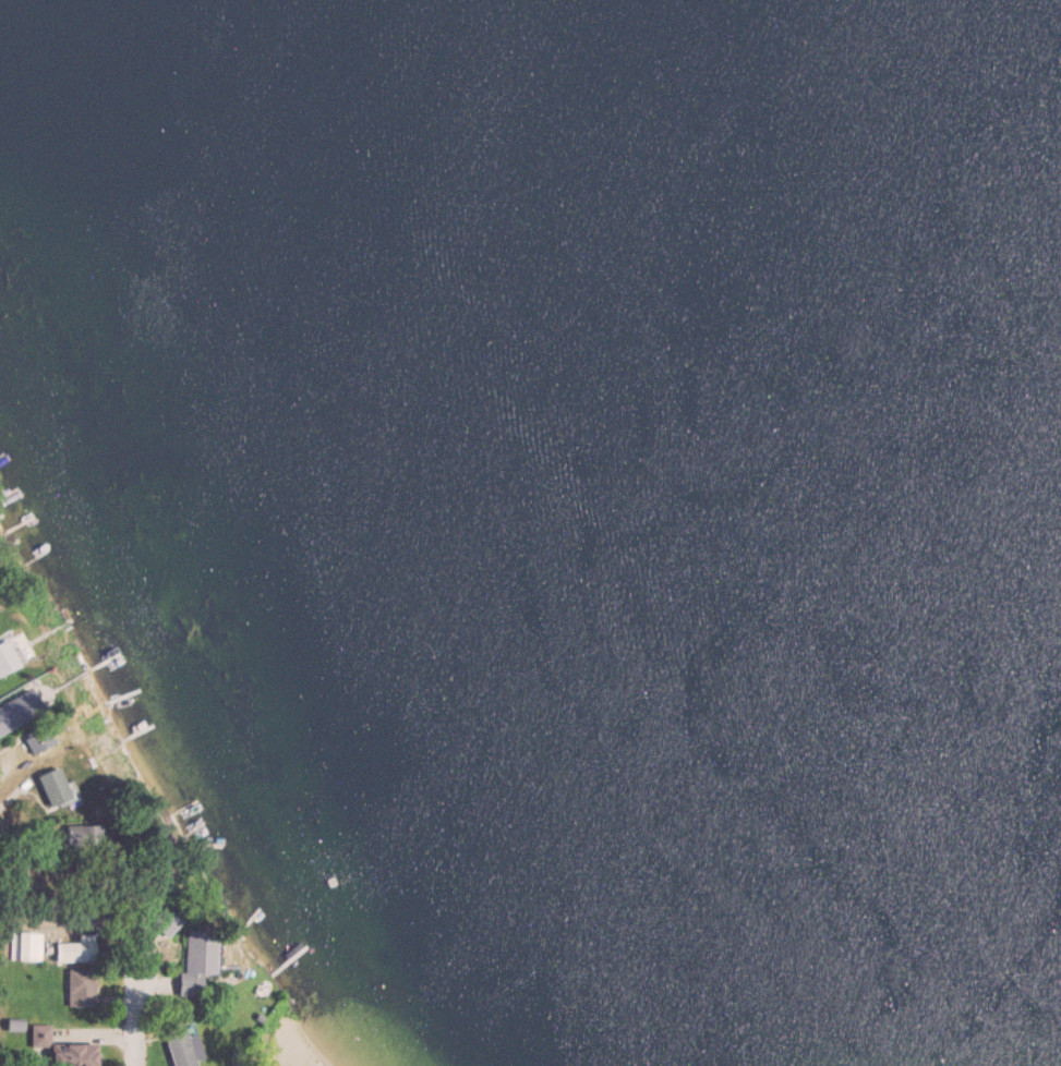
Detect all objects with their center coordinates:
building: (5, 658)
building: (14, 714)
building: (36, 740)
building: (51, 787)
building: (75, 838)
building: (193, 959)
building: (80, 988)
road: (132, 1014)
park: (303, 1038)
building: (178, 1049)
building: (72, 1055)

